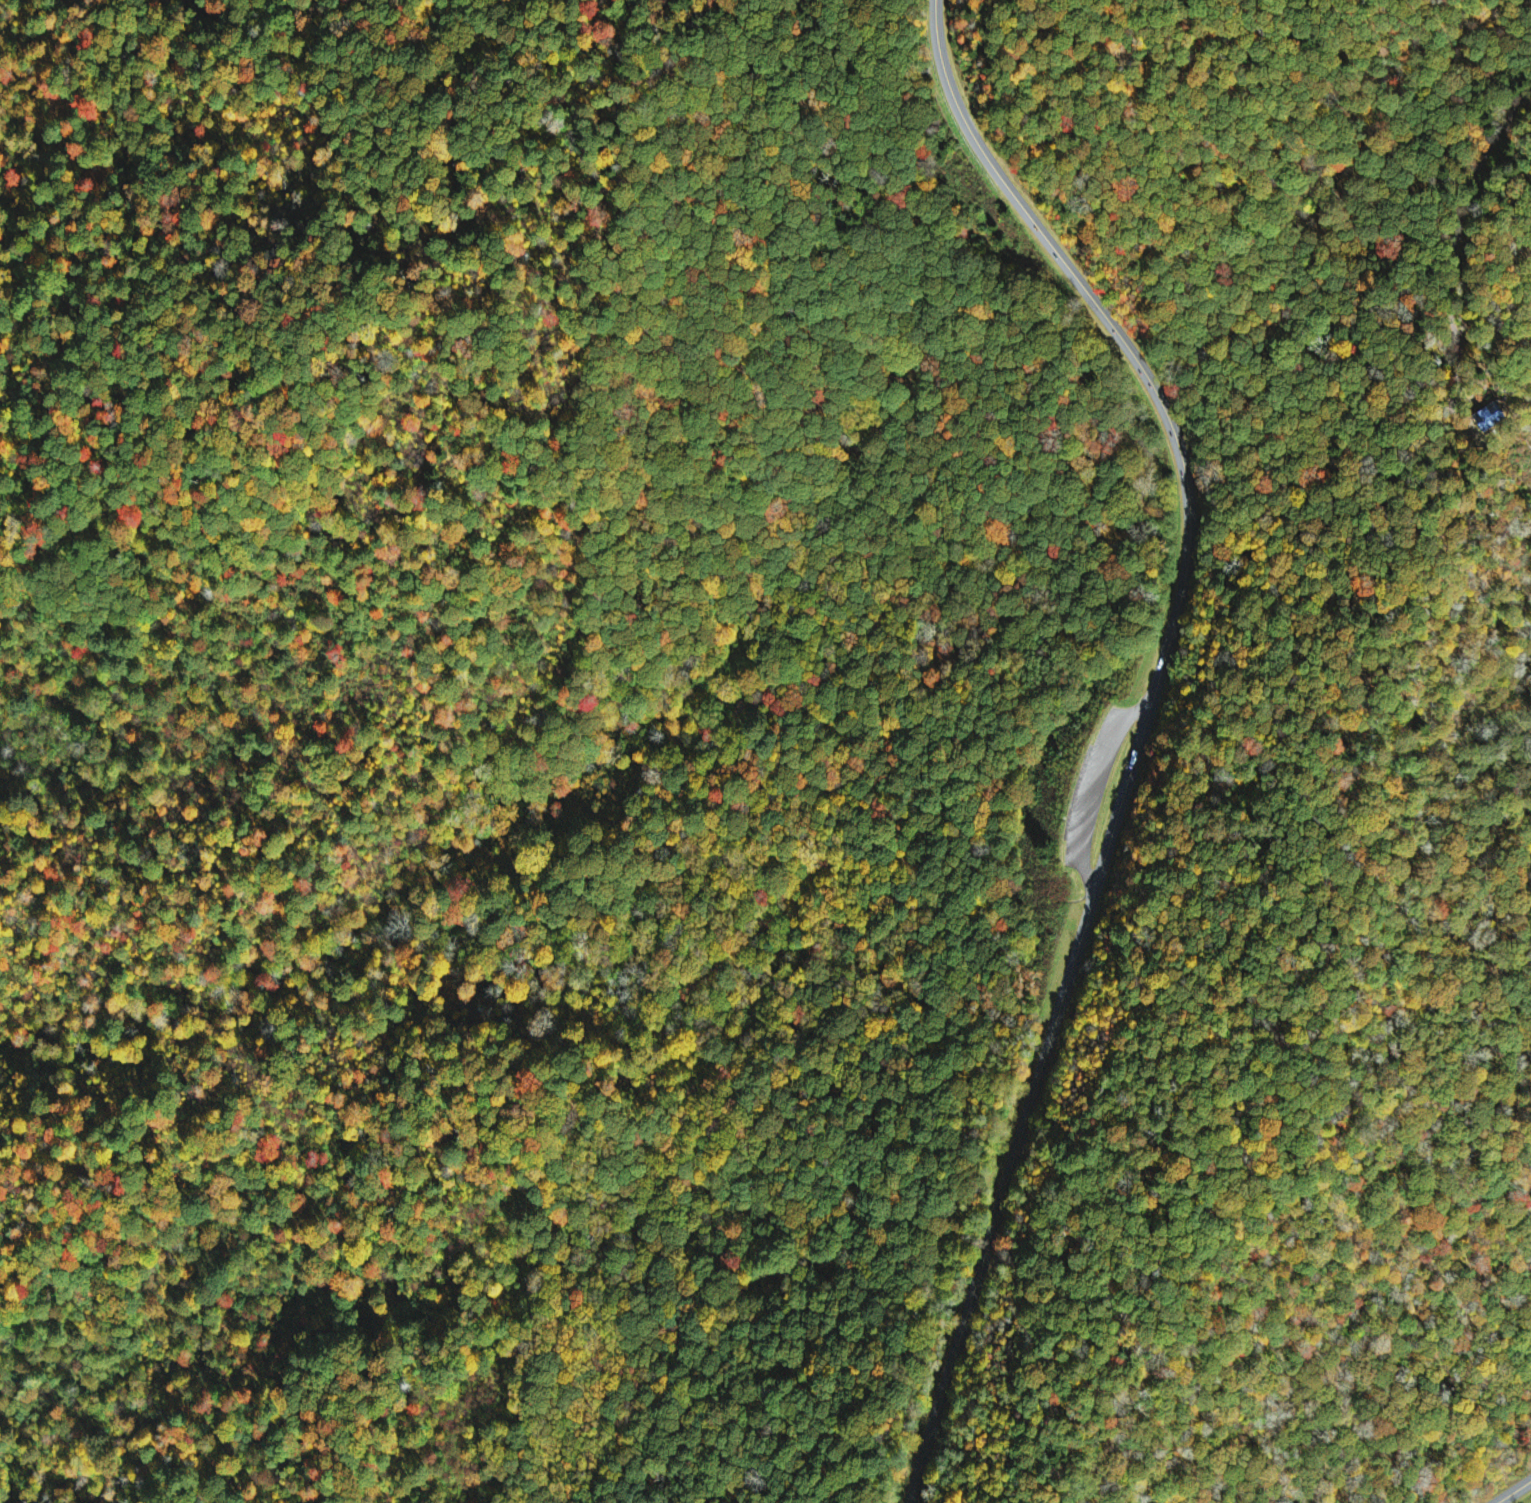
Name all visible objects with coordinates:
road: (1018, 199)
building: (1487, 418)
parking lot: (1095, 784)
road: (1090, 785)
road: (1267, 788)
road: (1069, 864)
road: (1080, 940)
road: (1374, 1382)
road: (1513, 1491)

